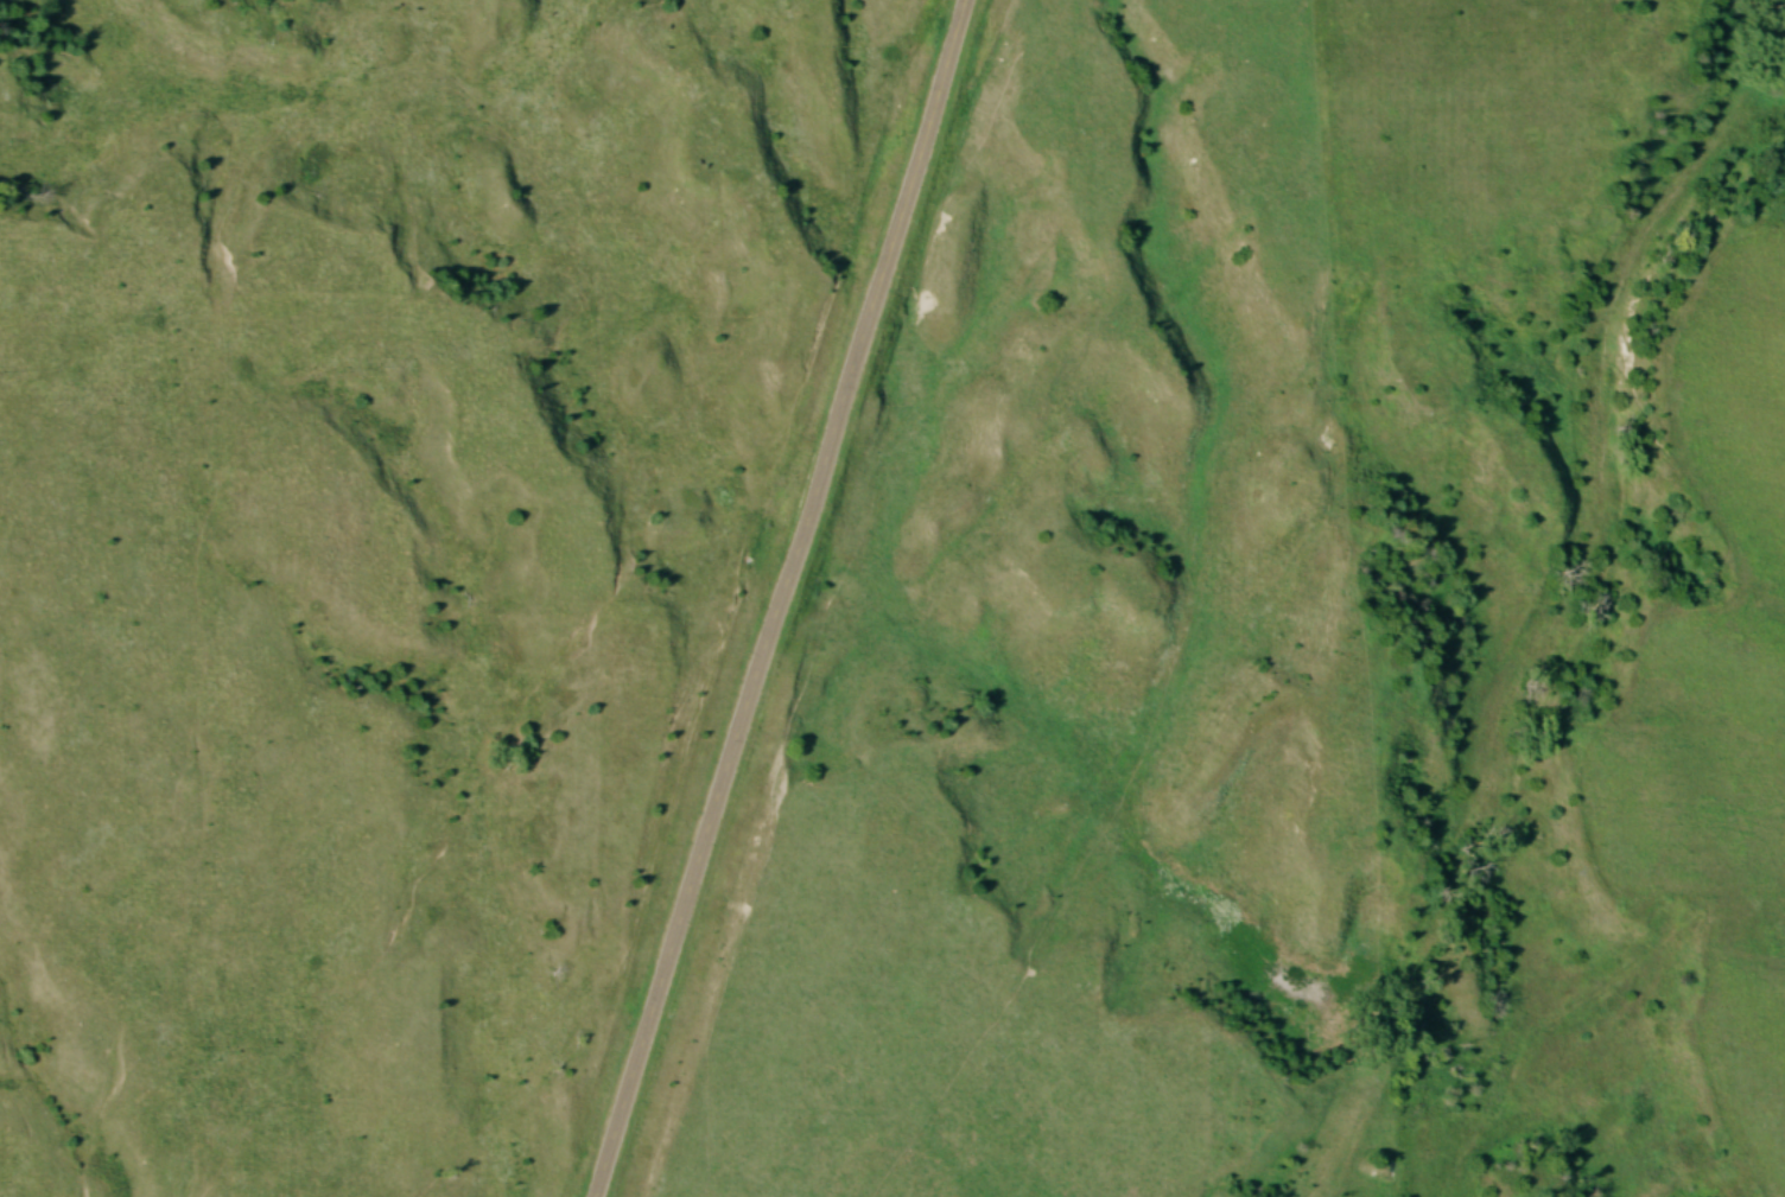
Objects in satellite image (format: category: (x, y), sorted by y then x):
road: (781, 598)

